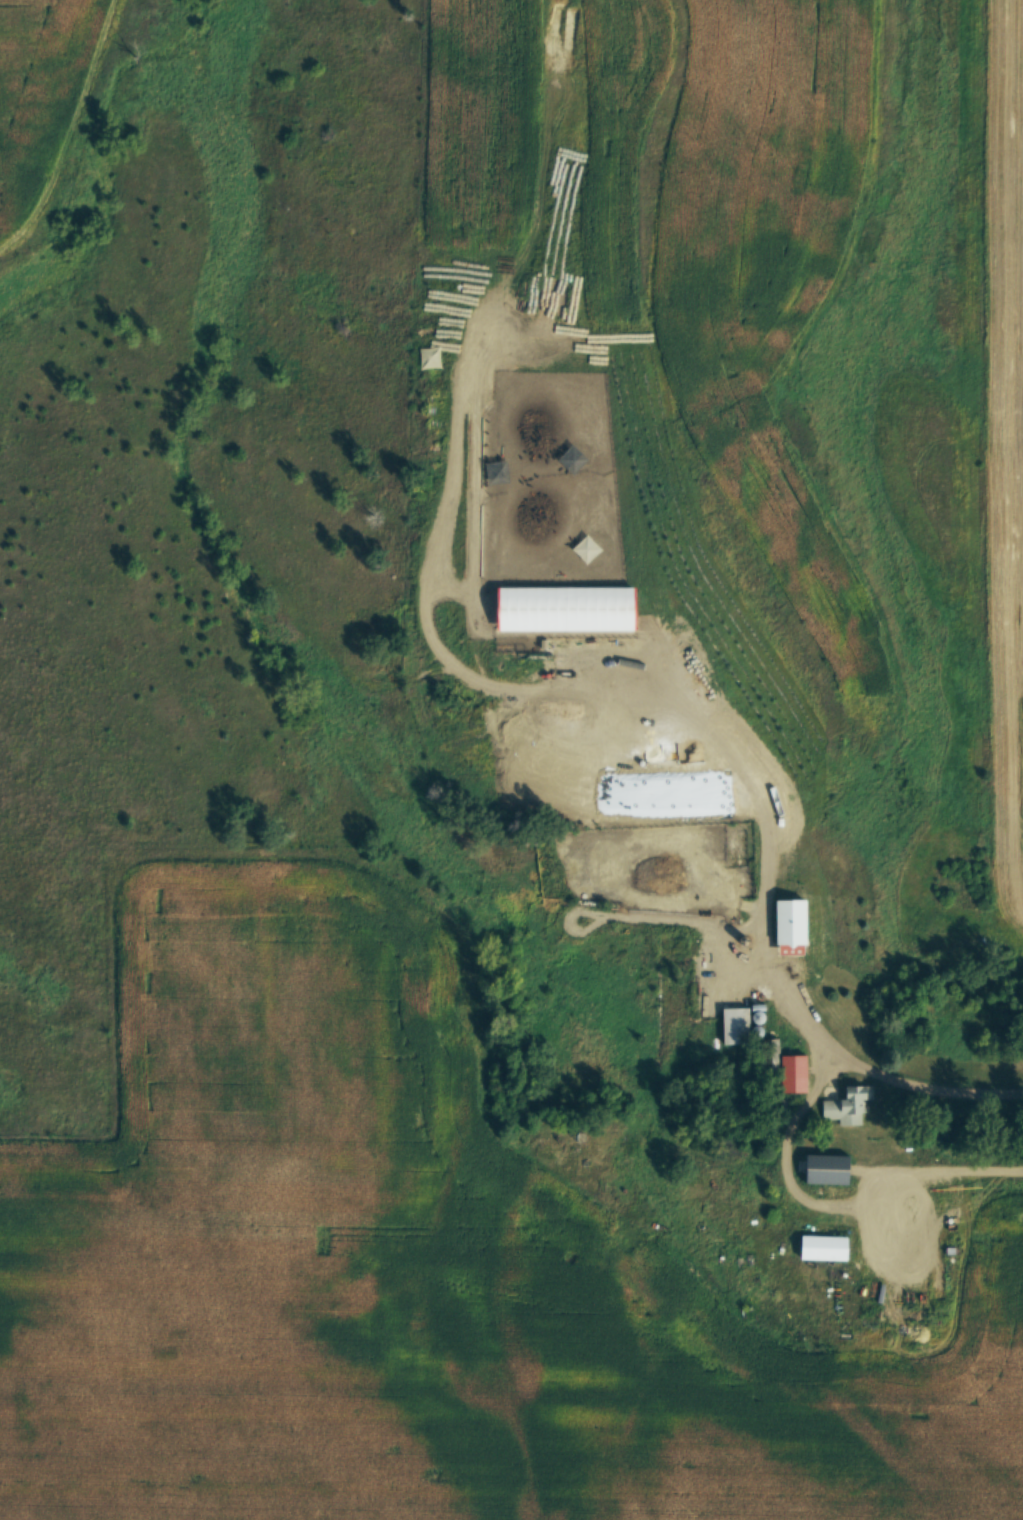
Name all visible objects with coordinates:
building: (793, 921)
road: (764, 951)
building: (735, 1025)
building: (797, 1072)
building: (846, 1105)
building: (830, 1168)
road: (835, 1205)
building: (825, 1248)

